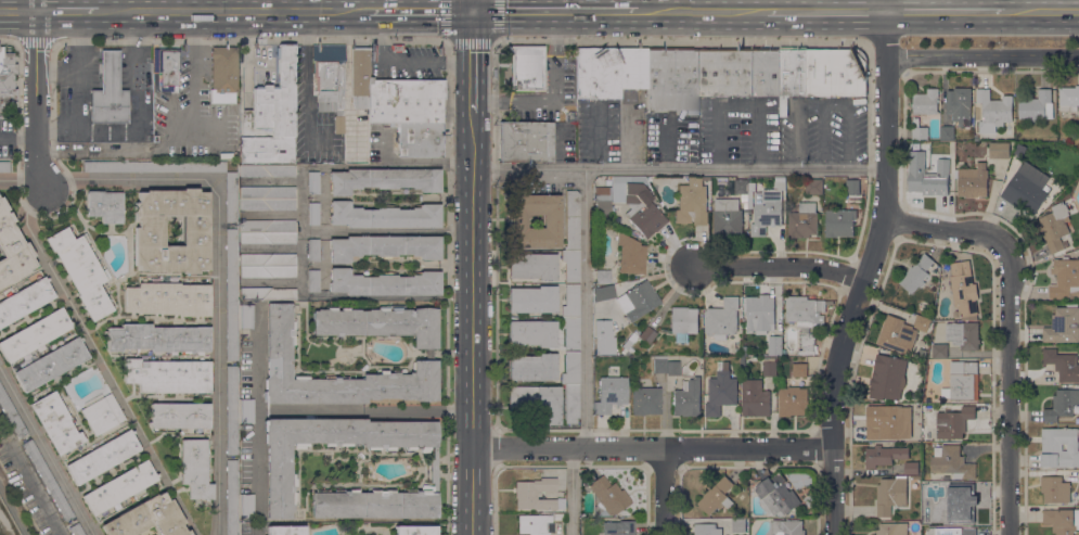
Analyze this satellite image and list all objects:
road: (64, 5)
road: (177, 5)
road: (266, 5)
road: (342, 5)
road: (383, 5)
road: (472, 5)
road: (885, 5)
road: (1041, 10)
road: (17, 11)
road: (67, 11)
road: (234, 11)
road: (420, 11)
road: (554, 11)
road: (702, 11)
road: (825, 11)
road: (945, 11)
traffic signals: (472, 12)
road: (369, 28)
road: (7, 39)
road: (34, 40)
road: (470, 41)
building: (397, 48)
road: (492, 50)
road: (981, 55)
road: (472, 58)
road: (550, 58)
road: (397, 63)
parking lot: (404, 64)
road: (458, 64)
building: (168, 67)
building: (527, 68)
building: (632, 68)
building: (836, 72)
building: (727, 73)
building: (767, 73)
road: (120, 74)
building: (586, 74)
building: (607, 74)
building: (223, 75)
road: (305, 76)
building: (792, 76)
building: (359, 77)
building: (7, 79)
building: (672, 79)
building: (330, 80)
building: (108, 92)
gas station: (108, 92)
road: (449, 92)
building: (1068, 98)
road: (36, 100)
building: (406, 101)
building: (960, 101)
building: (926, 102)
road: (511, 104)
building: (1037, 106)
road: (472, 109)
building: (993, 111)
building: (273, 116)
building: (919, 129)
parking lot: (738, 130)
parking lot: (836, 130)
building: (947, 132)
road: (632, 135)
road: (595, 139)
building: (420, 140)
road: (180, 142)
building: (524, 142)
road: (667, 144)
building: (999, 150)
building: (1014, 163)
building: (4, 167)
building: (155, 167)
road: (679, 170)
building: (268, 171)
building: (781, 179)
building: (384, 180)
building: (722, 180)
building: (974, 180)
building: (930, 181)
road: (22, 182)
building: (313, 182)
building: (742, 186)
building: (814, 186)
building: (1027, 188)
building: (855, 191)
building: (268, 193)
building: (232, 198)
building: (745, 198)
building: (602, 201)
building: (692, 202)
building: (268, 205)
building: (746, 205)
building: (104, 206)
building: (638, 206)
building: (767, 211)
building: (313, 214)
building: (384, 216)
building: (727, 217)
building: (571, 220)
building: (802, 220)
building: (517, 221)
building: (840, 222)
building: (268, 226)
building: (1054, 226)
building: (149, 237)
building: (268, 238)
building: (384, 247)
building: (12, 250)
building: (313, 250)
building: (630, 255)
building: (268, 259)
building: (531, 266)
building: (570, 266)
road: (781, 266)
road: (218, 269)
building: (81, 271)
building: (268, 271)
road: (865, 273)
building: (916, 273)
building: (602, 277)
building: (1067, 277)
building: (313, 281)
building: (384, 283)
building: (963, 289)
building: (268, 294)
building: (232, 295)
building: (900, 297)
building: (168, 300)
building: (531, 300)
building: (24, 301)
building: (638, 301)
building: (570, 302)
road: (586, 310)
building: (759, 313)
building: (246, 317)
building: (722, 318)
building: (806, 318)
building: (922, 322)
road: (471, 323)
building: (683, 323)
building: (1064, 324)
road: (1004, 329)
building: (532, 333)
building: (570, 333)
building: (35, 334)
building: (897, 334)
building: (963, 334)
building: (647, 335)
building: (157, 339)
building: (774, 344)
building: (602, 346)
building: (940, 351)
building: (278, 354)
road: (98, 361)
building: (51, 365)
building: (659, 365)
building: (1063, 365)
building: (769, 366)
building: (532, 367)
building: (956, 367)
building: (672, 368)
building: (570, 369)
building: (801, 370)
building: (168, 375)
building: (887, 377)
building: (783, 381)
building: (963, 383)
building: (721, 390)
building: (609, 394)
building: (688, 398)
building: (755, 398)
building: (792, 400)
building: (539, 402)
building: (645, 402)
building: (571, 404)
building: (1062, 405)
building: (232, 410)
road: (363, 410)
building: (246, 411)
building: (12, 415)
building: (102, 415)
building: (180, 416)
road: (257, 420)
building: (884, 421)
building: (953, 422)
building: (55, 423)
park: (4, 426)
building: (1059, 447)
road: (650, 449)
road: (493, 450)
road: (46, 451)
building: (884, 455)
building: (102, 457)
building: (951, 462)
building: (278, 466)
building: (911, 468)
building: (194, 469)
building: (48, 481)
building: (119, 487)
parking lot: (28, 489)
road: (35, 489)
building: (1055, 489)
road: (571, 492)
road: (664, 493)
building: (524, 495)
building: (776, 495)
building: (890, 495)
building: (608, 496)
building: (717, 496)
building: (232, 497)
road: (493, 502)
building: (961, 506)
building: (246, 507)
road: (12, 512)
building: (558, 518)
building: (147, 519)
building: (1062, 520)
building: (535, 524)
building: (618, 527)
building: (720, 527)
building: (786, 527)
building: (245, 528)
building: (891, 528)
building: (75, 530)
building: (285, 531)
building: (415, 531)
building: (963, 532)

